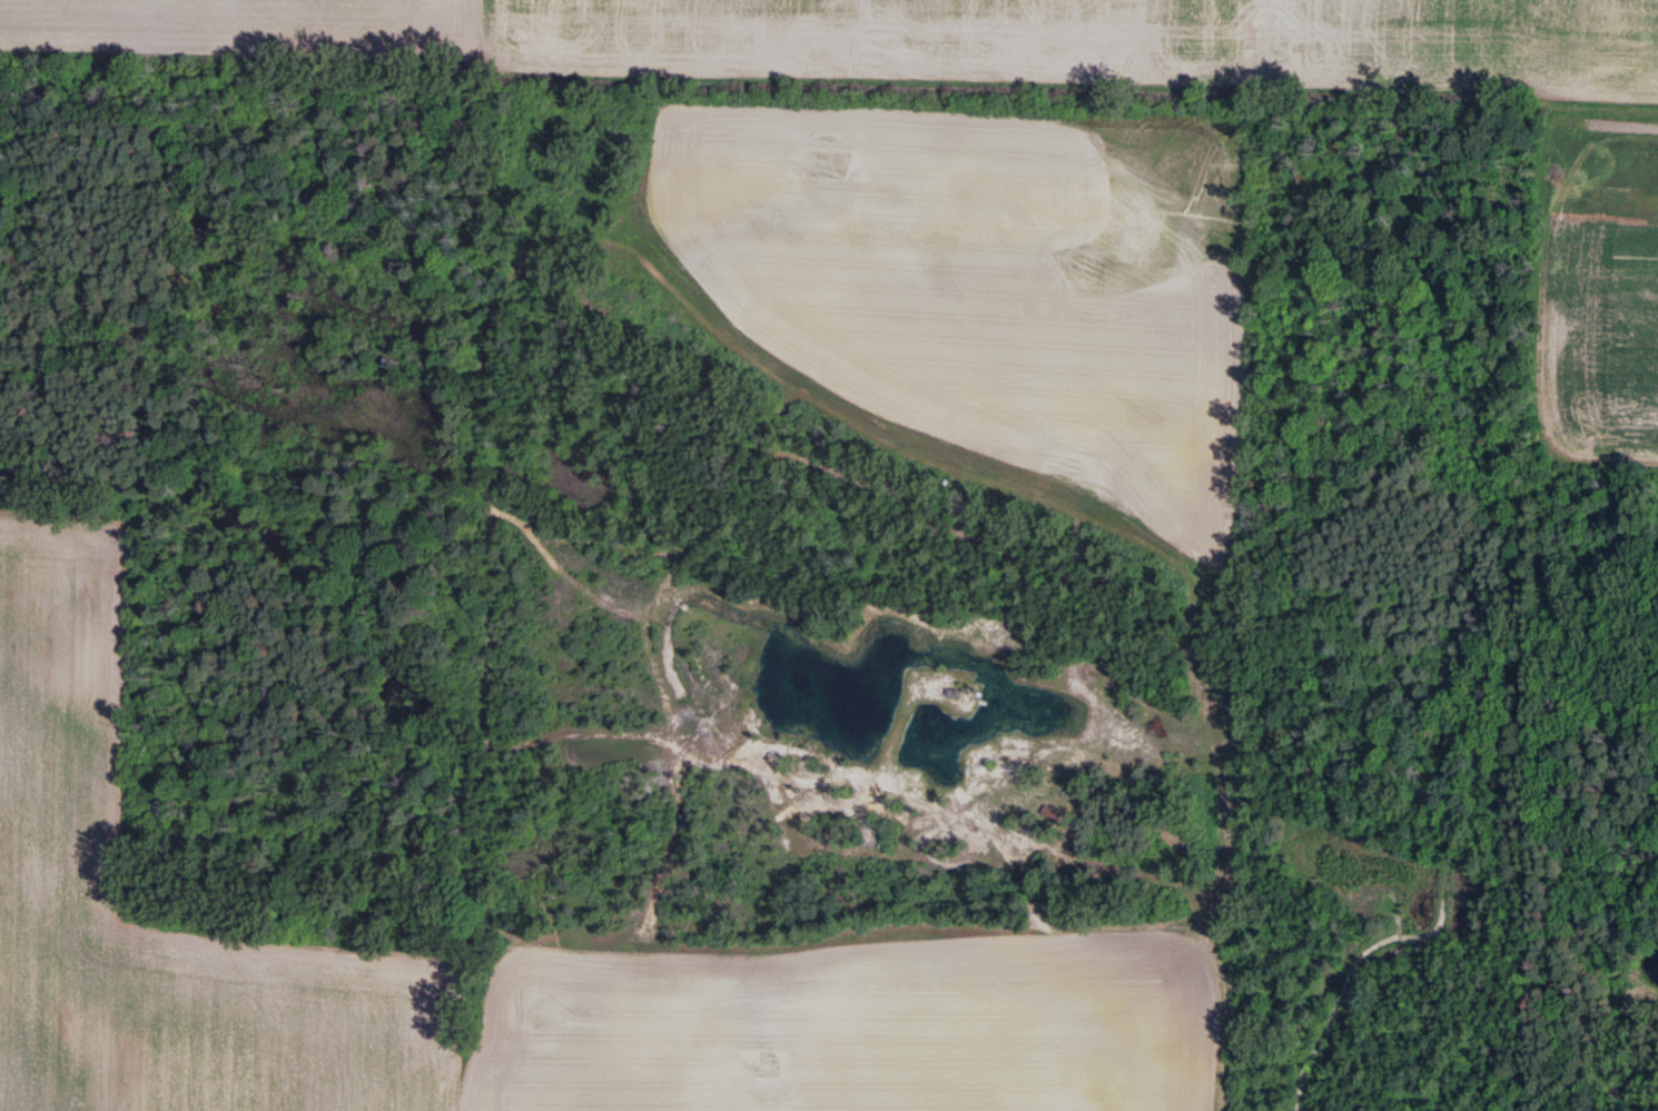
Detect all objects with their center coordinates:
road: (438, 599)
road: (1172, 1023)

